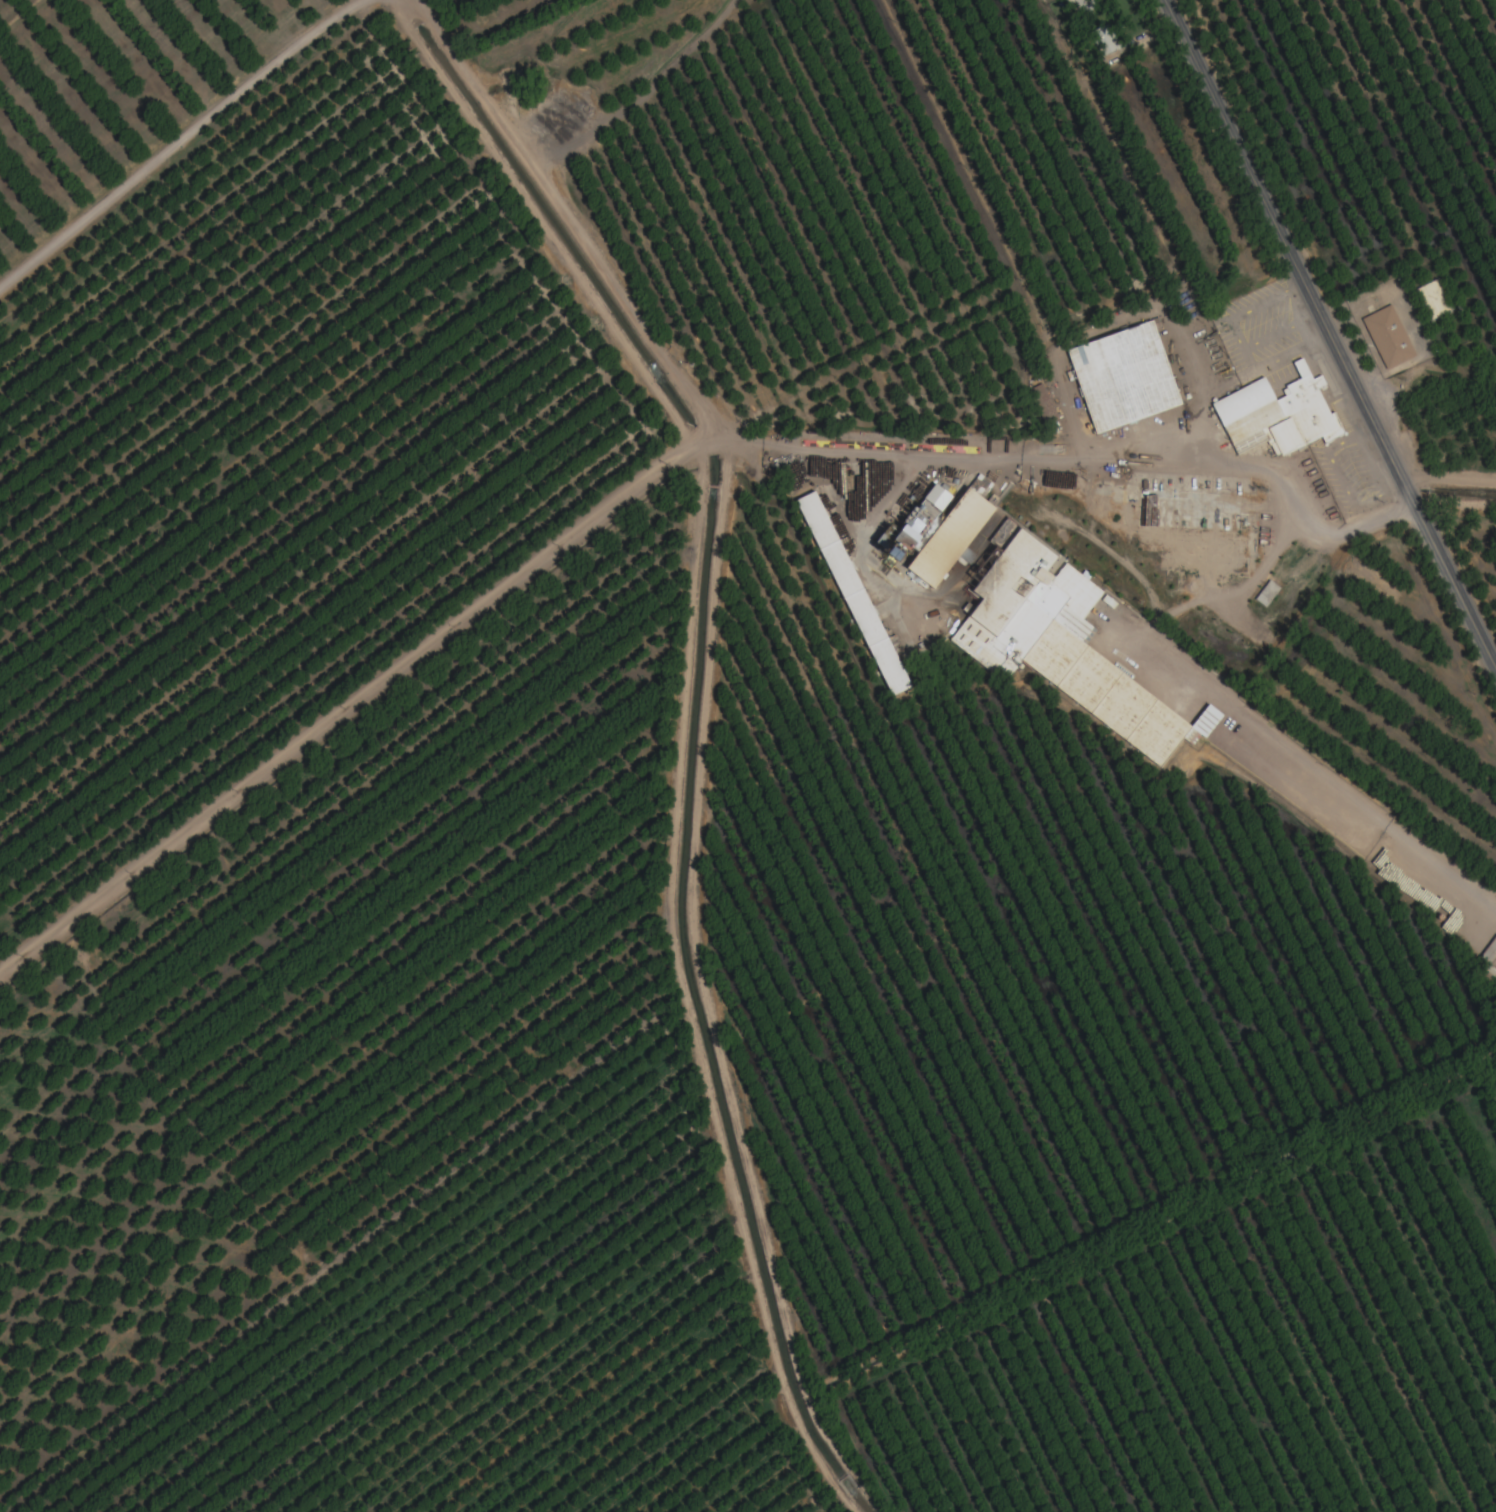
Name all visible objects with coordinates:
building: (1084, 6)
building: (1105, 44)
road: (179, 141)
building: (1435, 300)
road: (1118, 314)
parking lot: (1266, 333)
road: (1328, 336)
building: (1388, 339)
building: (1123, 375)
building: (1279, 415)
road: (1448, 484)
road: (644, 488)
road: (1453, 505)
building: (842, 518)
building: (1188, 532)
building: (951, 537)
building: (853, 593)
building: (1059, 643)
road: (703, 727)
building: (1485, 967)

